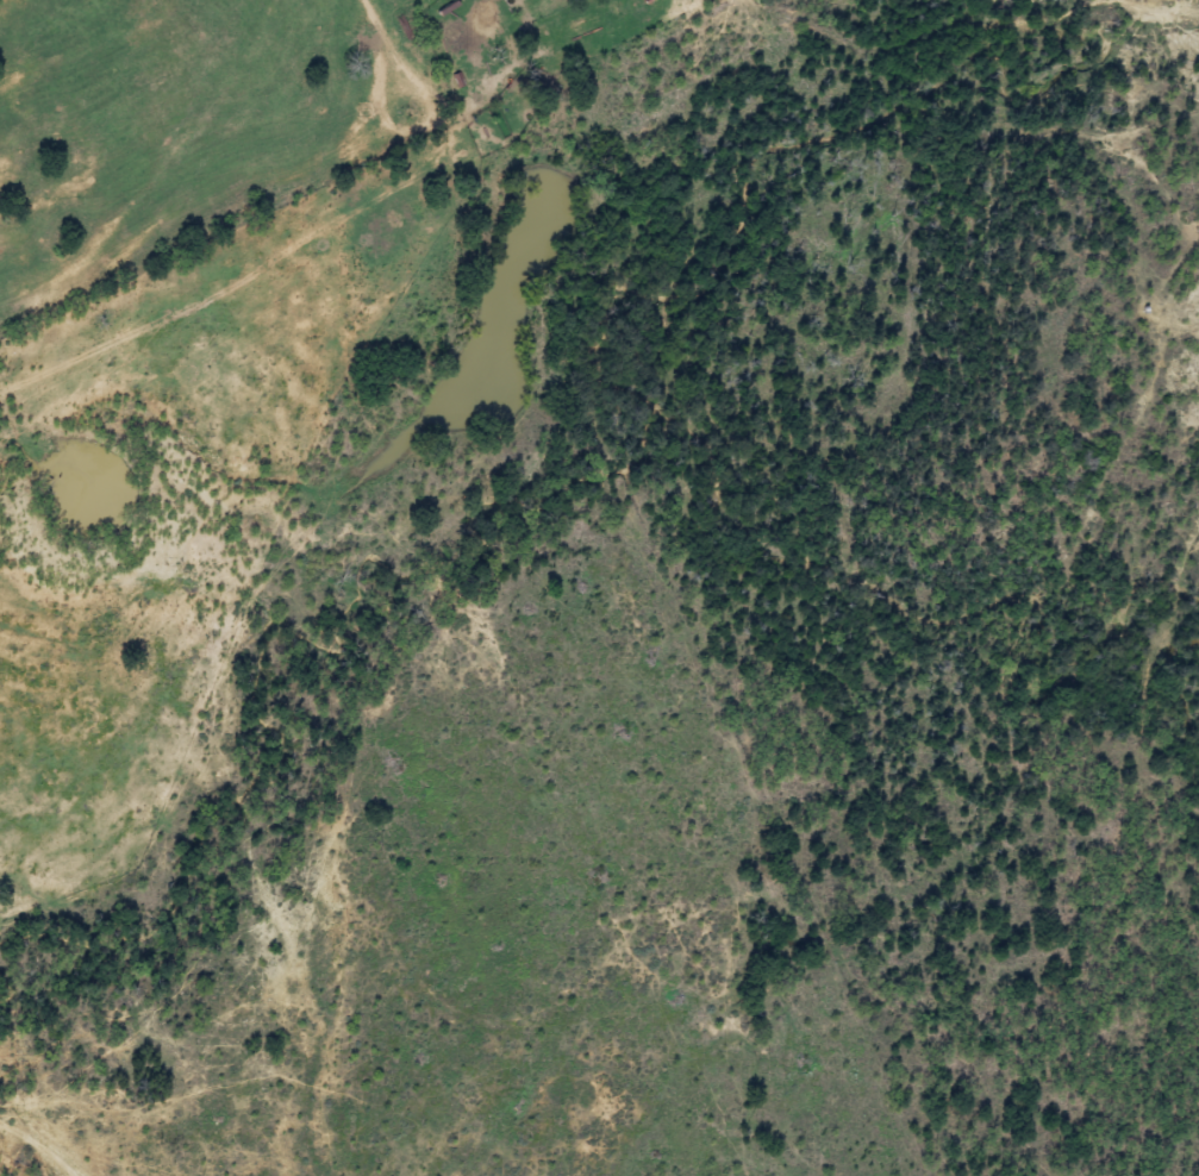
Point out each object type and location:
road: (1172, 13)
road: (62, 1145)

